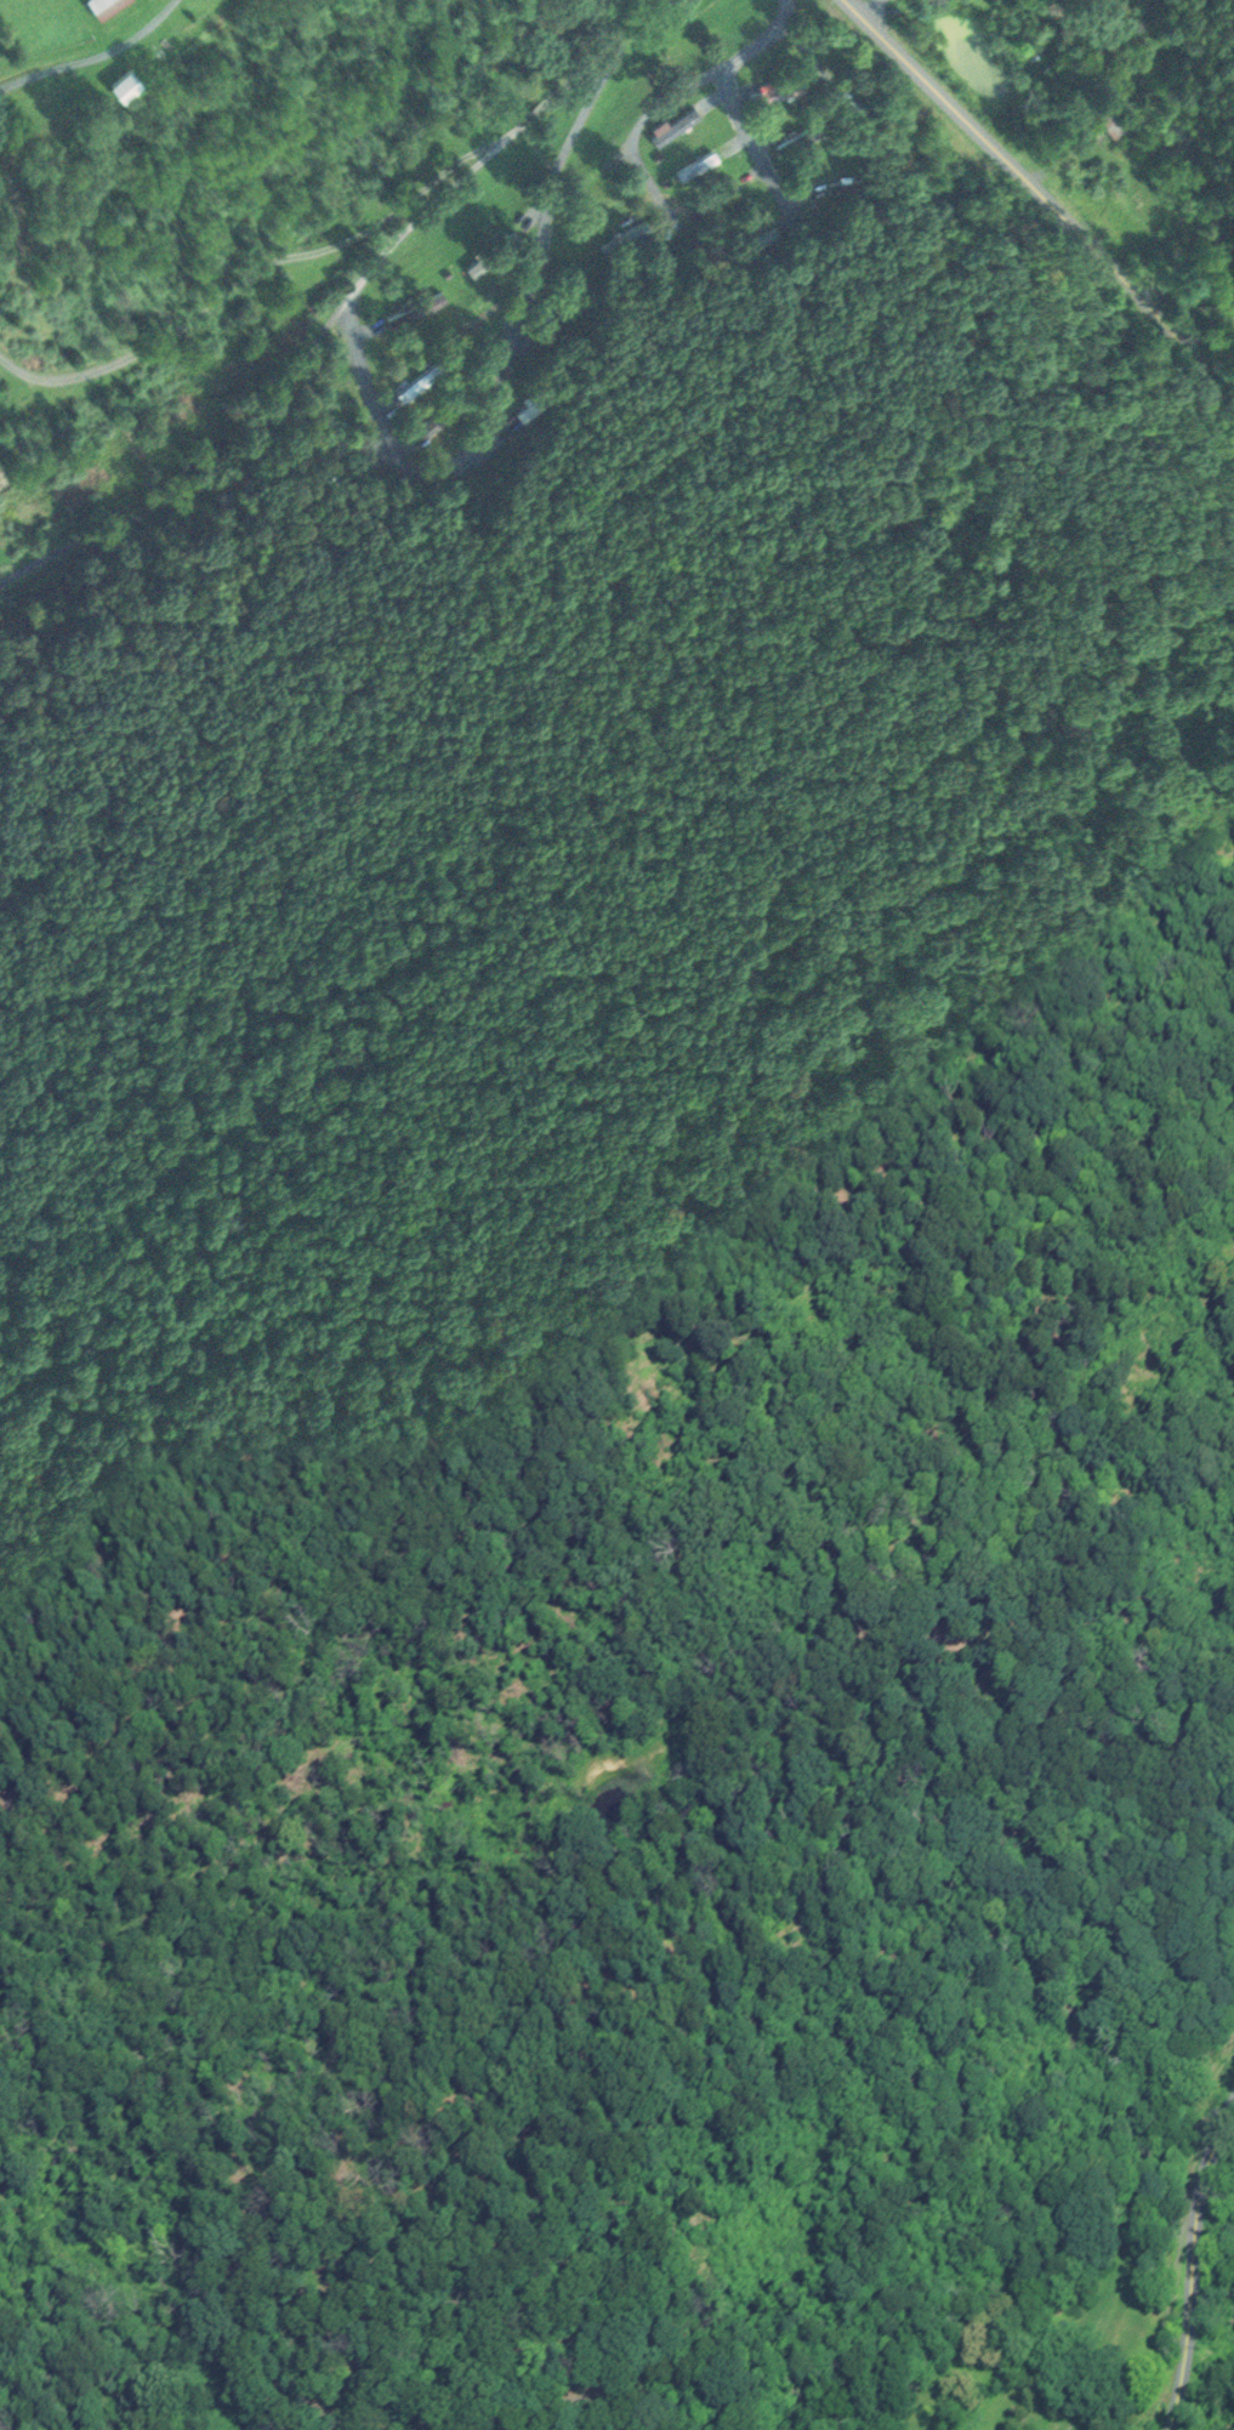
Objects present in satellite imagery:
road: (649, 22)
road: (760, 40)
road: (97, 57)
road: (737, 114)
road: (636, 129)
road: (1044, 195)
road: (251, 278)
road: (385, 453)
road: (211, 488)
road: (1196, 2270)

